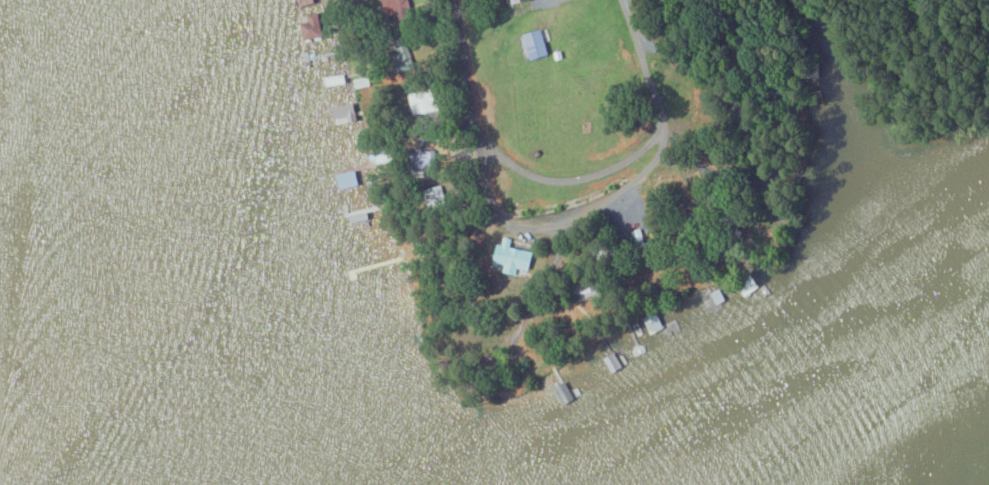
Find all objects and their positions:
building: (520, 1)
building: (313, 27)
building: (536, 45)
building: (336, 79)
building: (361, 81)
building: (345, 112)
building: (349, 178)
road: (557, 220)
building: (517, 259)
building: (713, 299)

